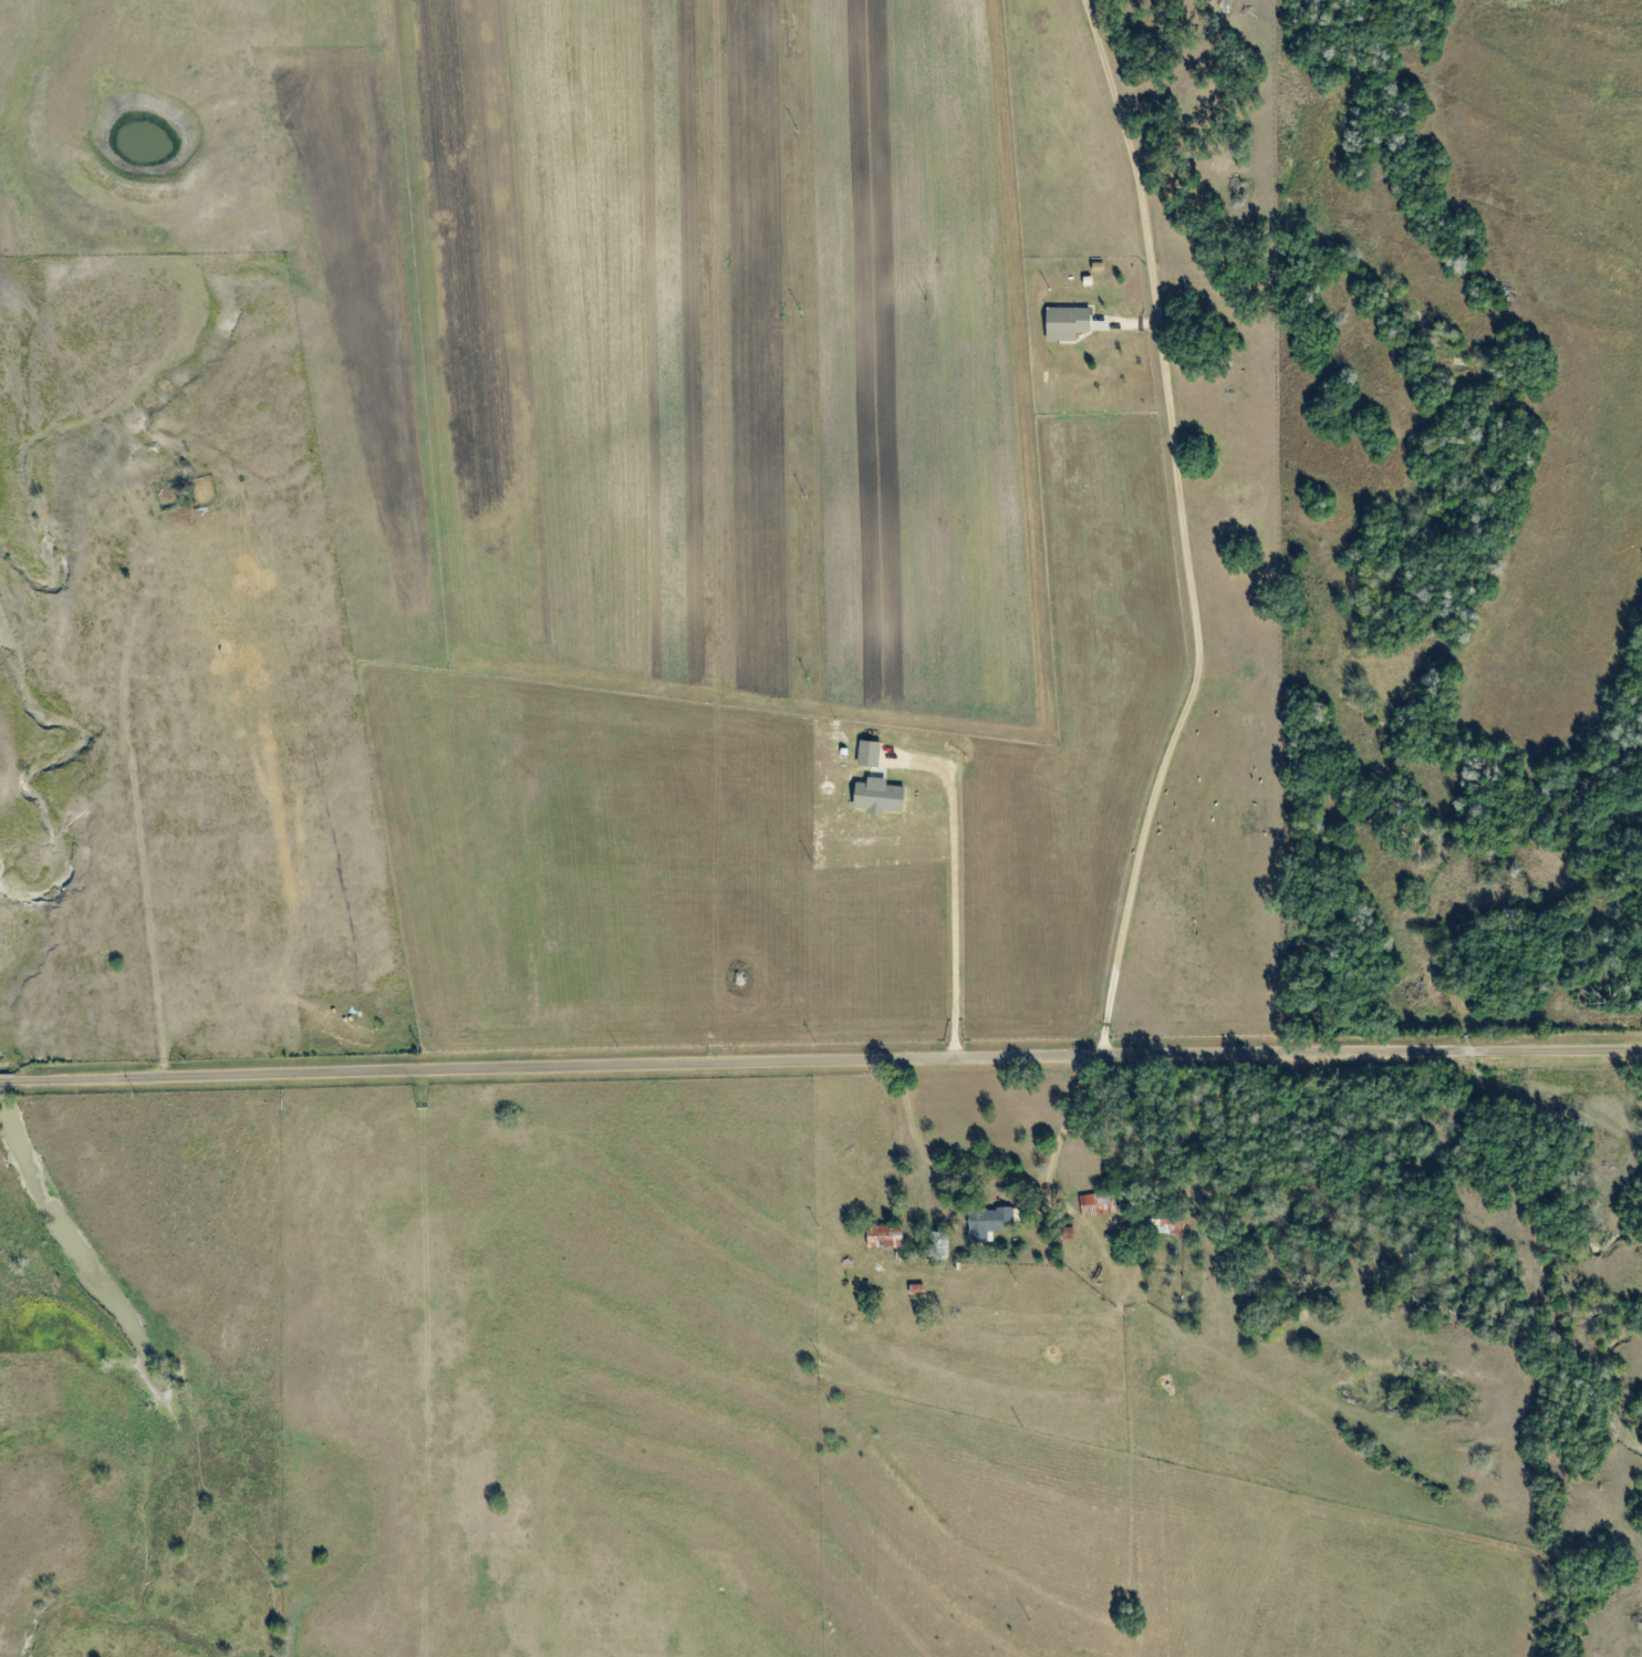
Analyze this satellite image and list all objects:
building: (1067, 323)
road: (1181, 527)
building: (869, 754)
building: (877, 797)
road: (820, 1053)
building: (1098, 1204)
building: (987, 1222)
building: (1067, 1234)
building: (884, 1237)

